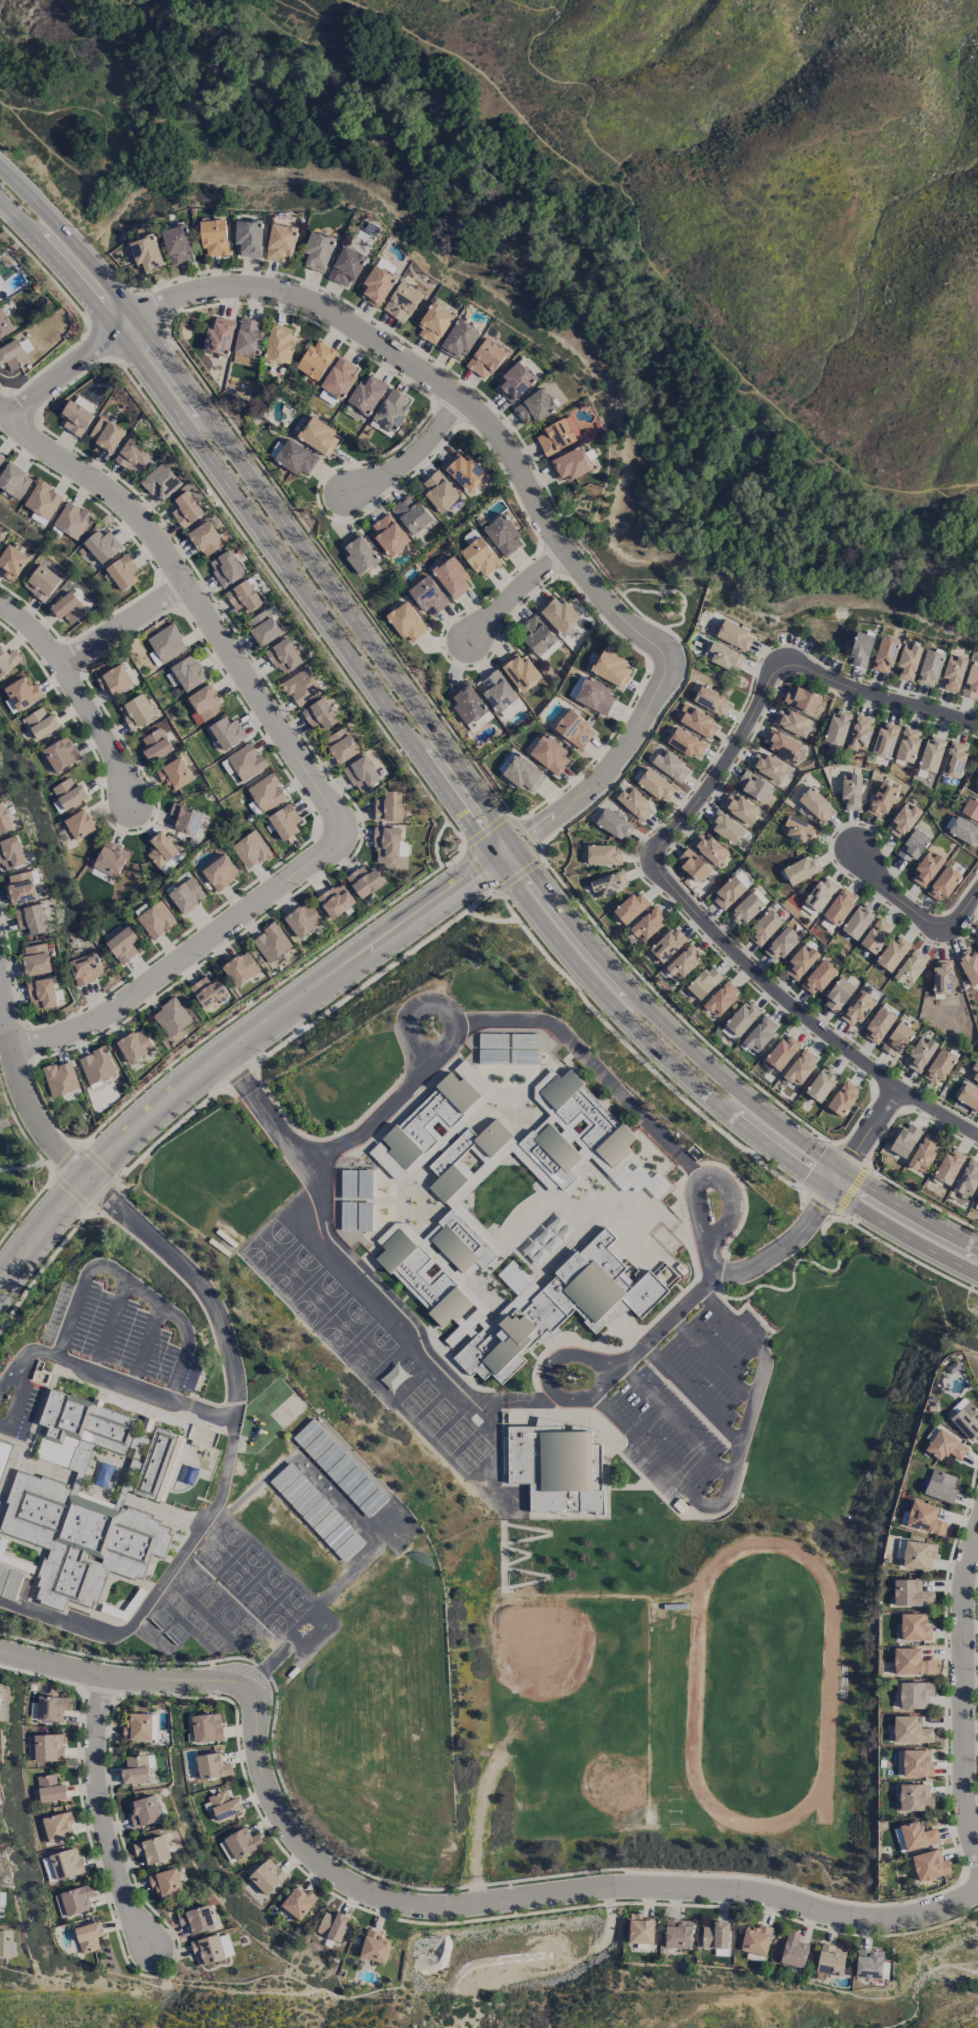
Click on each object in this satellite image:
road: (330, 17)
road: (94, 24)
road: (220, 35)
road: (324, 47)
road: (572, 82)
road: (490, 84)
road: (12, 103)
road: (110, 156)
road: (464, 229)
building: (214, 237)
building: (281, 241)
building: (178, 244)
building: (249, 245)
building: (317, 252)
building: (147, 254)
building: (346, 266)
road: (46, 272)
building: (376, 285)
building: (401, 300)
building: (4, 323)
building: (434, 323)
building: (219, 336)
building: (458, 340)
building: (247, 341)
road: (101, 342)
building: (279, 344)
building: (12, 354)
building: (485, 358)
building: (315, 359)
road: (68, 372)
building: (339, 377)
building: (515, 381)
building: (366, 393)
road: (763, 398)
building: (534, 406)
building: (391, 409)
building: (75, 417)
building: (105, 434)
building: (318, 435)
building: (557, 435)
building: (133, 456)
building: (296, 457)
road: (413, 457)
building: (1, 458)
building: (570, 464)
building: (463, 470)
building: (13, 480)
building: (160, 481)
road: (525, 484)
building: (439, 491)
building: (42, 499)
building: (185, 508)
building: (410, 513)
building: (71, 520)
building: (388, 534)
building: (503, 535)
building: (0, 536)
building: (205, 538)
building: (101, 545)
building: (358, 552)
building: (480, 556)
building: (12, 561)
building: (226, 568)
building: (122, 571)
building: (452, 577)
building: (42, 581)
road: (516, 592)
building: (428, 595)
building: (243, 596)
road: (290, 603)
park: (665, 603)
building: (69, 607)
building: (558, 613)
building: (406, 621)
road: (124, 624)
building: (264, 625)
building: (734, 635)
building: (538, 637)
building: (166, 643)
building: (861, 648)
building: (884, 654)
building: (283, 656)
building: (724, 656)
building: (908, 660)
building: (9, 663)
building: (612, 668)
building: (929, 668)
building: (519, 671)
building: (188, 672)
building: (953, 673)
building: (115, 680)
building: (971, 682)
building: (300, 687)
building: (22, 692)
road: (78, 692)
building: (498, 693)
building: (594, 695)
road: (882, 698)
building: (800, 699)
building: (711, 700)
building: (467, 703)
building: (203, 704)
building: (137, 711)
building: (319, 714)
building: (792, 722)
building: (41, 723)
building: (699, 723)
building: (836, 727)
building: (574, 729)
building: (226, 732)
building: (859, 732)
building: (884, 739)
building: (686, 743)
building: (782, 744)
building: (907, 744)
building: (156, 745)
building: (341, 745)
road: (446, 752)
building: (60, 754)
building: (549, 754)
building: (930, 754)
building: (954, 759)
building: (245, 761)
road: (303, 763)
road: (724, 764)
building: (670, 765)
building: (767, 766)
building: (523, 772)
building: (361, 773)
building: (175, 774)
building: (656, 785)
building: (753, 785)
road: (442, 787)
building: (976, 787)
building: (851, 791)
building: (266, 792)
building: (67, 794)
building: (881, 800)
building: (635, 803)
building: (815, 804)
building: (388, 806)
building: (740, 808)
building: (970, 809)
building: (185, 818)
building: (4, 819)
building: (903, 820)
building: (284, 821)
building: (79, 824)
building: (614, 824)
building: (726, 827)
building: (797, 829)
building: (965, 831)
building: (66, 833)
building: (912, 845)
building: (389, 847)
building: (708, 847)
building: (250, 849)
traffic signals: (513, 850)
building: (163, 852)
building: (10, 853)
building: (603, 855)
building: (107, 861)
traffic signals: (498, 861)
building: (692, 864)
building: (926, 868)
building: (801, 869)
road: (477, 870)
building: (219, 871)
building: (363, 881)
building: (608, 883)
building: (943, 883)
building: (20, 887)
building: (730, 890)
building: (186, 895)
building: (818, 895)
building: (335, 900)
building: (748, 906)
building: (839, 906)
building: (630, 907)
road: (913, 910)
building: (30, 919)
building: (302, 919)
building: (156, 920)
building: (857, 921)
building: (647, 923)
building: (764, 927)
building: (875, 935)
building: (977, 938)
building: (271, 942)
building: (667, 944)
building: (781, 944)
building: (122, 945)
building: (892, 953)
building: (35, 959)
building: (683, 961)
building: (800, 962)
building: (968, 965)
building: (910, 967)
building: (86, 968)
building: (240, 968)
building: (818, 977)
building: (942, 977)
building: (704, 982)
building: (208, 990)
building: (41, 993)
building: (838, 994)
building: (721, 998)
building: (857, 1008)
road: (403, 1014)
road: (802, 1015)
building: (171, 1017)
building: (740, 1020)
building: (879, 1023)
building: (759, 1034)
building: (897, 1038)
building: (492, 1040)
building: (523, 1040)
building: (134, 1045)
road: (239, 1048)
road: (7, 1049)
building: (782, 1052)
road: (581, 1053)
building: (920, 1054)
road: (635, 1055)
building: (492, 1057)
building: (524, 1057)
building: (95, 1065)
building: (938, 1066)
building: (800, 1067)
building: (974, 1071)
building: (59, 1078)
building: (821, 1083)
road: (23, 1090)
building: (968, 1096)
building: (843, 1098)
parking lot: (3, 1113)
building: (600, 1115)
road: (270, 1118)
building: (427, 1118)
road: (376, 1119)
road: (870, 1130)
building: (492, 1137)
building: (905, 1140)
building: (556, 1147)
building: (454, 1152)
building: (923, 1153)
building: (546, 1160)
road: (687, 1166)
building: (948, 1167)
road: (14, 1168)
traffic signals: (844, 1172)
park: (17, 1175)
building: (967, 1177)
road: (710, 1178)
building: (347, 1183)
building: (446, 1183)
building: (365, 1184)
traffic signals: (832, 1189)
building: (977, 1200)
building: (347, 1216)
building: (364, 1217)
road: (795, 1237)
building: (464, 1238)
road: (888, 1246)
building: (453, 1247)
building: (420, 1280)
road: (130, 1283)
building: (555, 1306)
park: (331, 1312)
road: (677, 1313)
road: (421, 1352)
road: (714, 1358)
road: (760, 1372)
road: (551, 1383)
road: (695, 1391)
road: (234, 1396)
building: (965, 1418)
road: (676, 1421)
building: (108, 1440)
building: (945, 1446)
building: (4, 1455)
building: (554, 1464)
road: (662, 1467)
building: (940, 1486)
building: (924, 1518)
building: (79, 1537)
building: (918, 1554)
park: (254, 1580)
road: (163, 1583)
building: (911, 1593)
building: (914, 1627)
park: (538, 1645)
building: (911, 1662)
road: (53, 1665)
road: (181, 1678)
park: (761, 1685)
road: (966, 1691)
building: (915, 1694)
building: (3, 1701)
building: (51, 1707)
building: (138, 1727)
building: (206, 1727)
building: (910, 1730)
building: (47, 1747)
building: (913, 1763)
building: (212, 1766)
building: (135, 1769)
park: (615, 1782)
building: (50, 1787)
building: (914, 1797)
building: (223, 1805)
building: (143, 1811)
road: (103, 1813)
building: (54, 1827)
building: (917, 1836)
building: (241, 1842)
building: (152, 1849)
building: (63, 1865)
building: (929, 1865)
building: (264, 1875)
building: (166, 1884)
road: (552, 1894)
building: (73, 1900)
building: (298, 1902)
building: (196, 1919)
building: (332, 1925)
building: (640, 1929)
building: (677, 1933)
building: (715, 1935)
building: (88, 1936)
building: (755, 1939)
building: (3, 1943)
building: (374, 1946)
building: (212, 1949)
building: (794, 1950)
building: (830, 1959)
building: (868, 1963)

